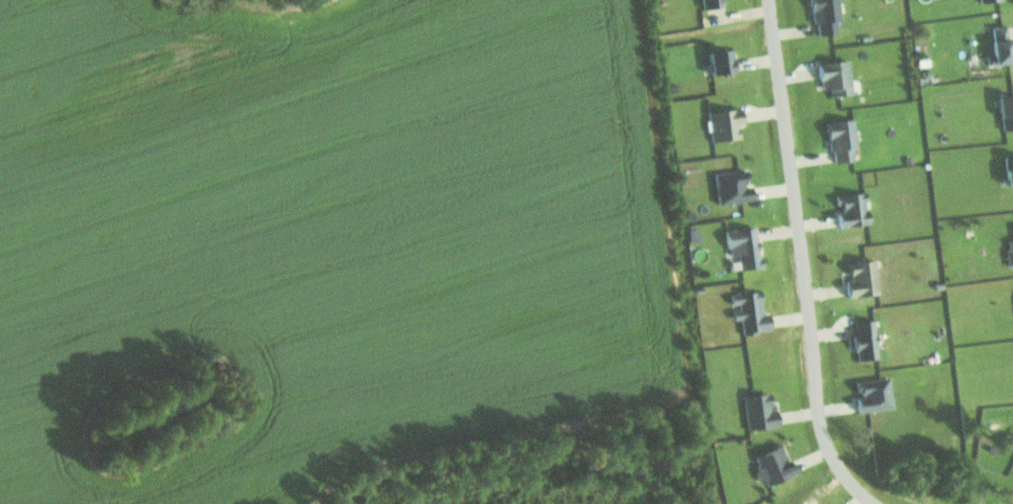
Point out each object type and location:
building: (989, 1)
building: (710, 4)
building: (826, 16)
building: (999, 46)
building: (721, 63)
building: (836, 78)
building: (1006, 113)
building: (724, 125)
building: (842, 140)
building: (1009, 171)
building: (733, 188)
building: (852, 211)
building: (1012, 226)
building: (744, 248)
building: (1009, 253)
road: (800, 262)
building: (862, 280)
building: (750, 312)
building: (865, 341)
building: (874, 394)
building: (759, 411)
building: (773, 465)

